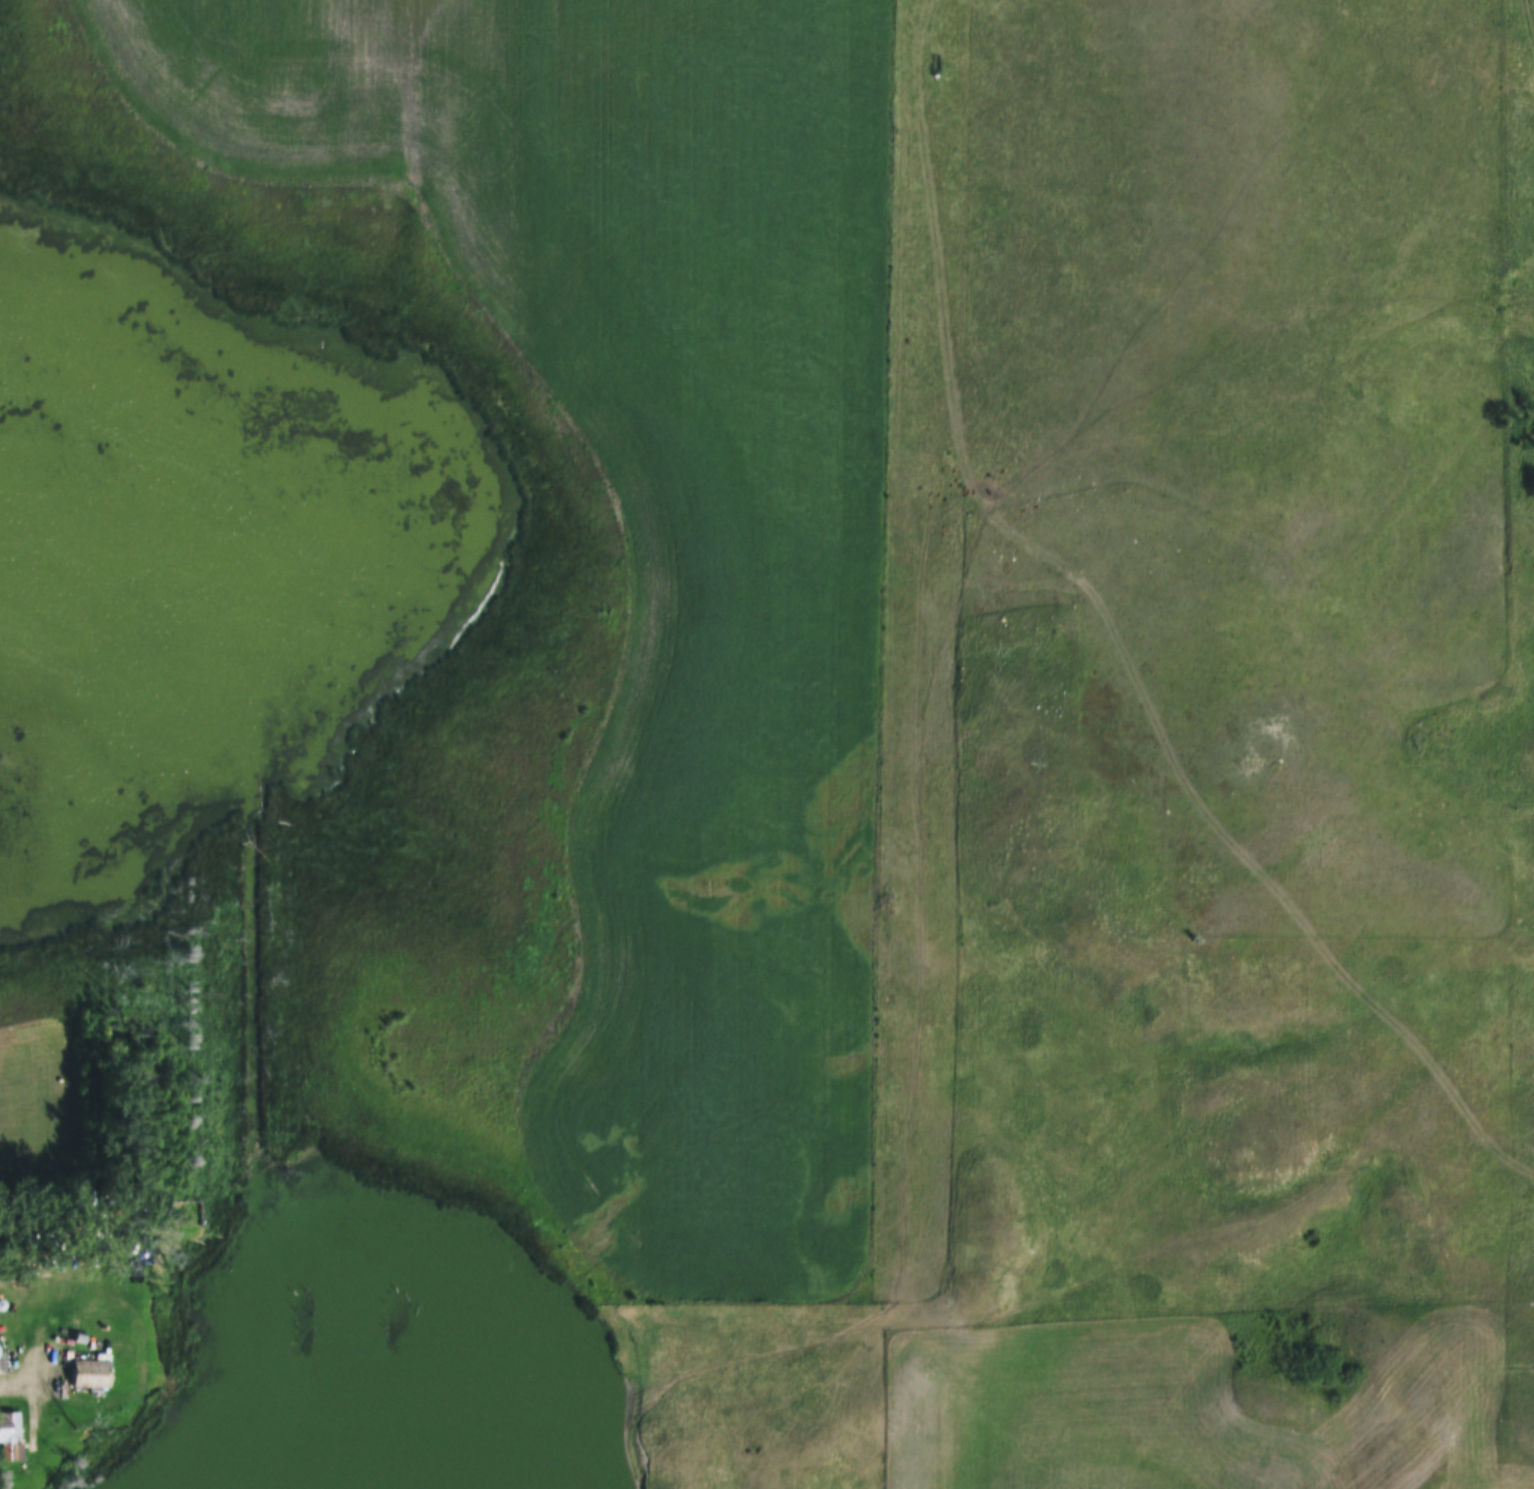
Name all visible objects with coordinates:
building: (187, 1215)
building: (1, 1304)
silo: (1, 1304)
building: (80, 1330)
road: (144, 1338)
building: (89, 1374)
road: (6, 1380)
building: (10, 1438)

